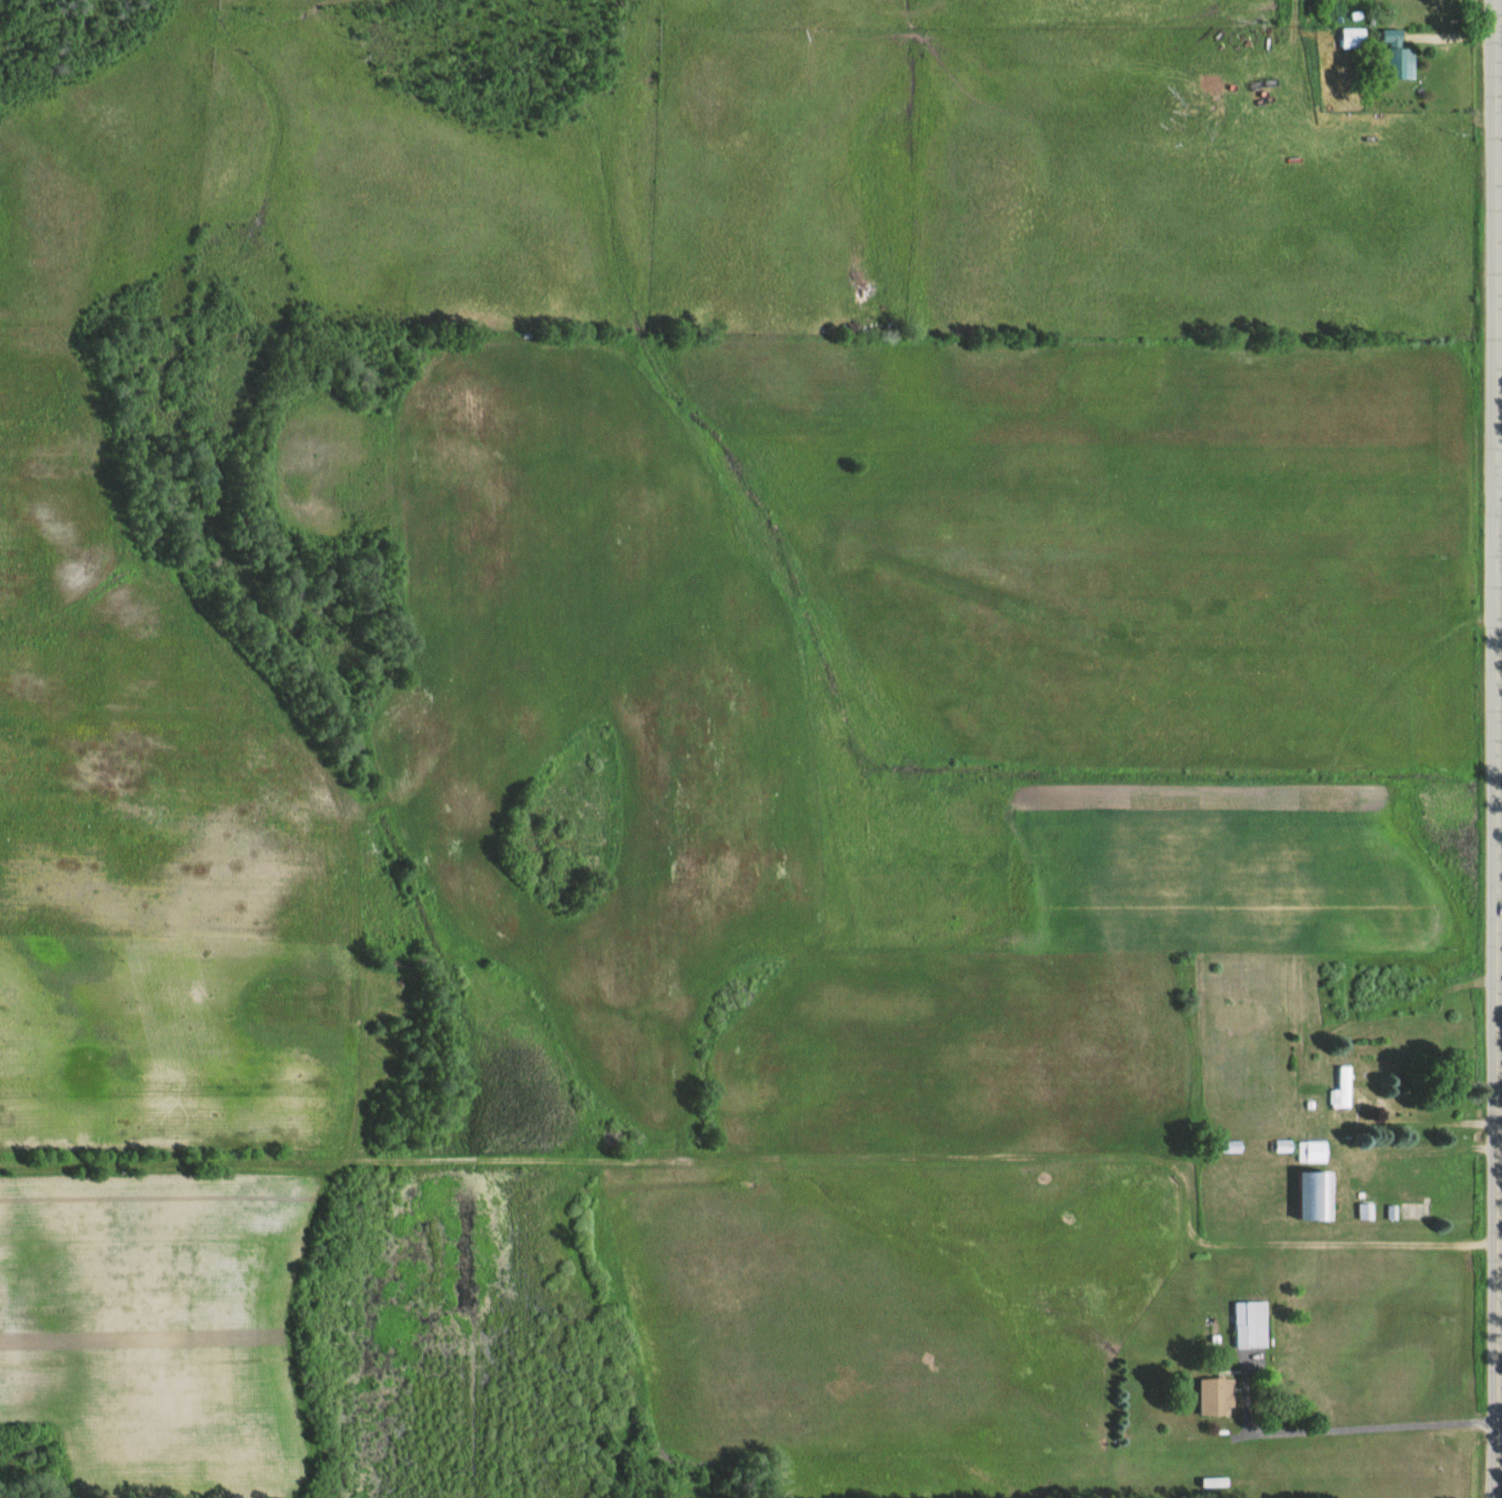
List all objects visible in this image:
building: (1348, 38)
building: (1393, 52)
road: (1497, 749)
building: (1336, 1087)
building: (1309, 1151)
building: (1308, 1194)
building: (1365, 1210)
building: (1254, 1320)
building: (1216, 1395)

